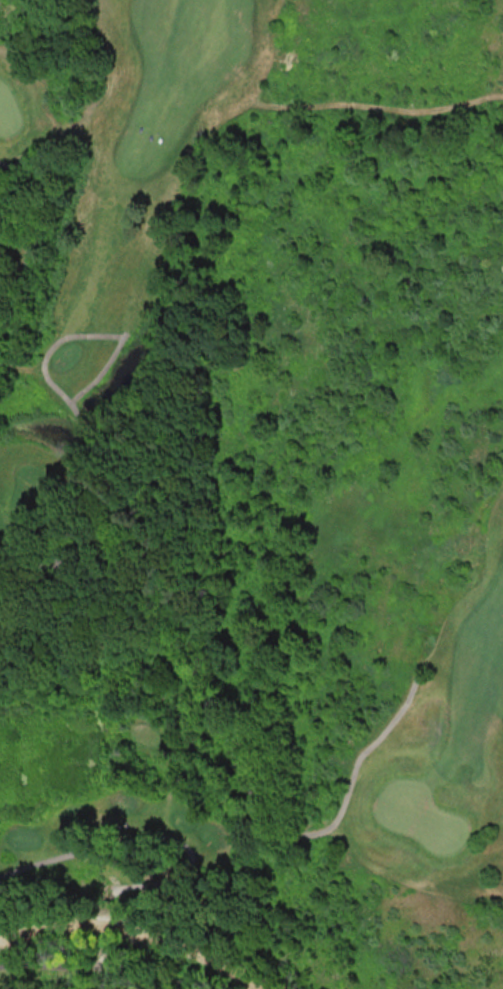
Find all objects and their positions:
road: (13, 223)
park: (251, 494)
road: (137, 934)

